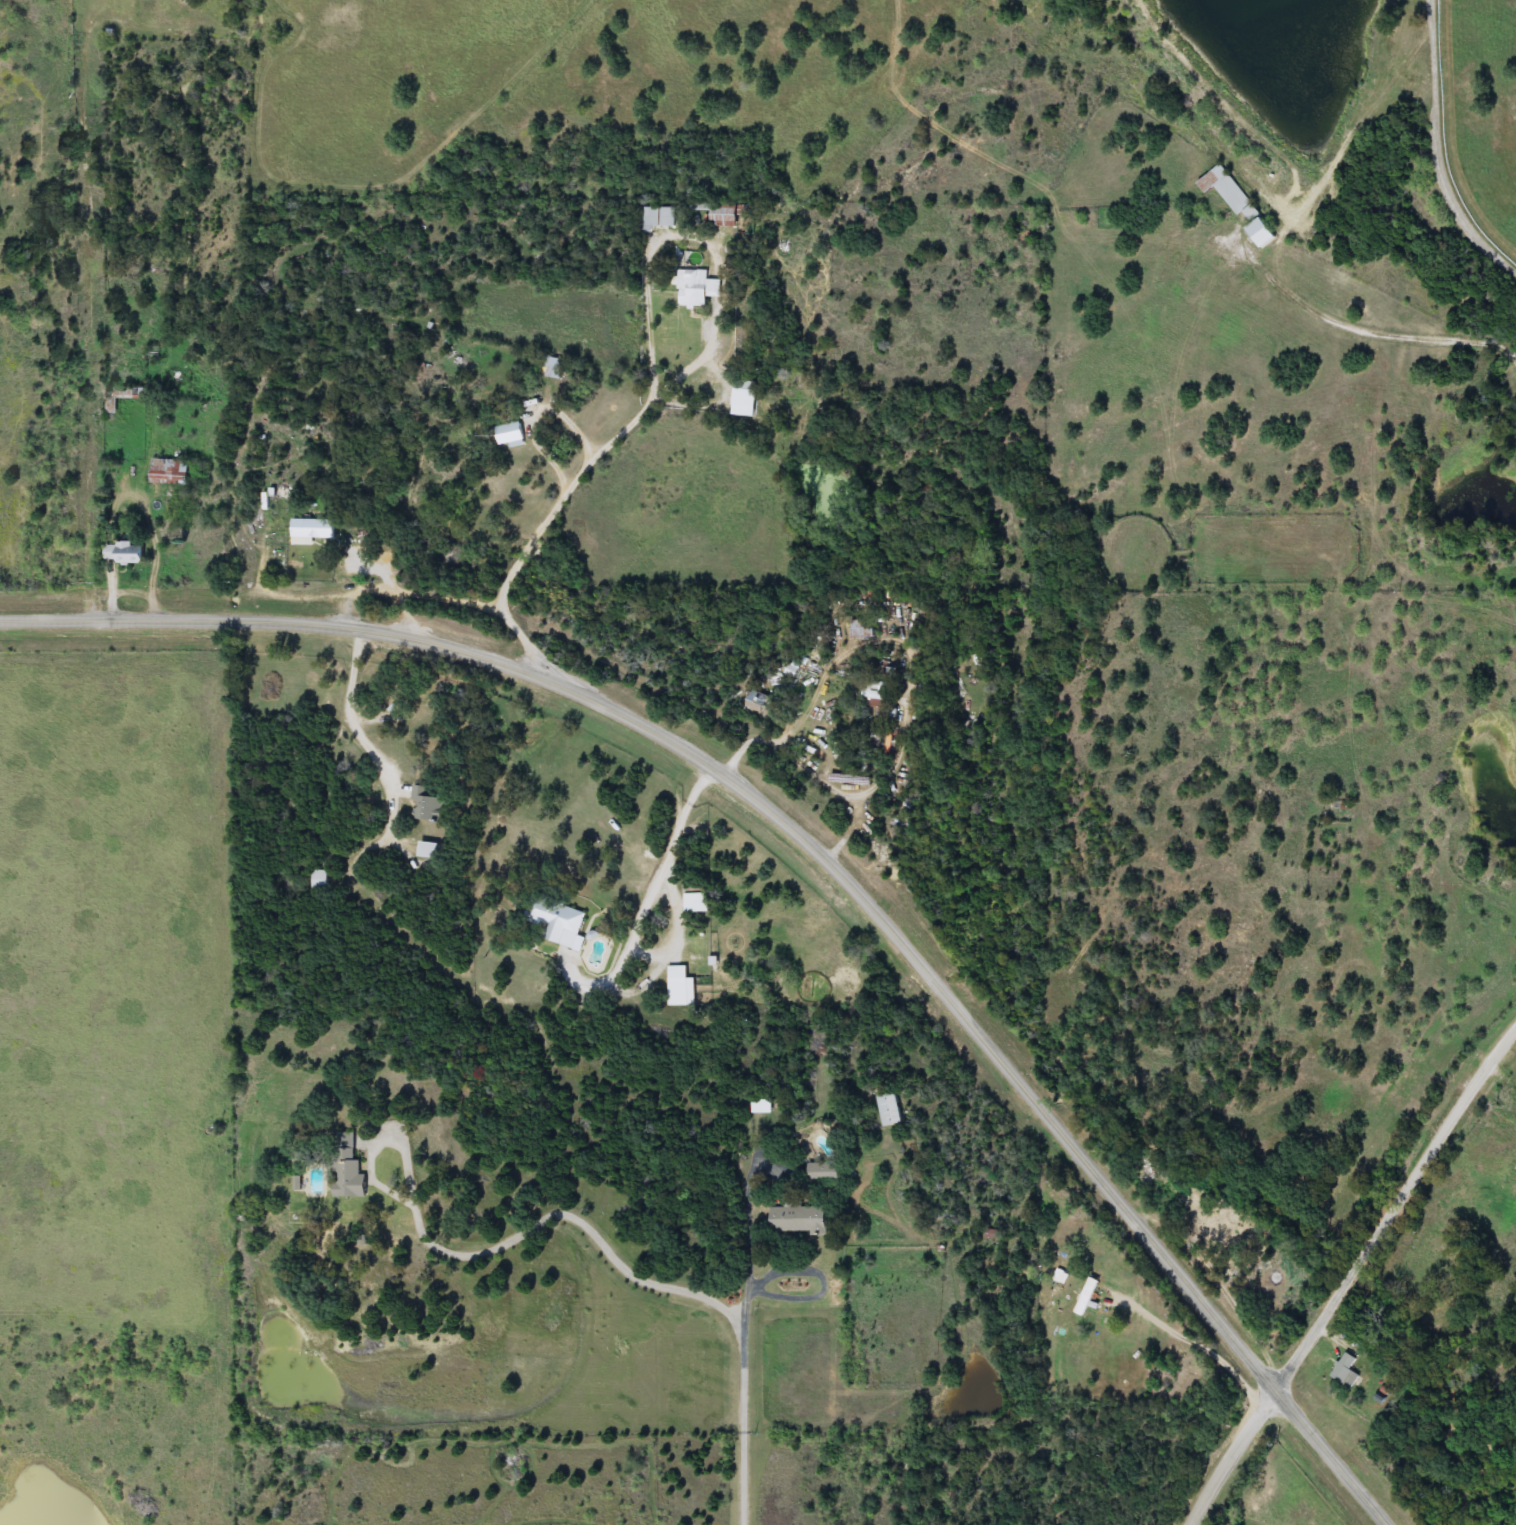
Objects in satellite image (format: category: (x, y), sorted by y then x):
building: (142, 7)
road: (1437, 150)
building: (1240, 202)
building: (727, 216)
building: (661, 218)
building: (696, 288)
road: (1366, 330)
building: (558, 368)
building: (124, 396)
building: (513, 432)
building: (174, 471)
road: (559, 498)
building: (313, 531)
building: (128, 552)
road: (159, 556)
building: (864, 629)
road: (511, 660)
building: (873, 690)
building: (762, 708)
road: (356, 720)
road: (754, 794)
building: (427, 804)
road: (658, 876)
building: (321, 879)
building: (698, 898)
building: (557, 920)
airport: (115, 979)
building: (678, 985)
building: (892, 1109)
road: (393, 1132)
building: (348, 1168)
building: (1149, 1170)
building: (825, 1172)
road: (582, 1214)
building: (798, 1219)
road: (749, 1230)
road: (1350, 1274)
building: (1089, 1295)
road: (1200, 1348)
building: (1346, 1363)
road: (745, 1423)
road: (1331, 1458)

